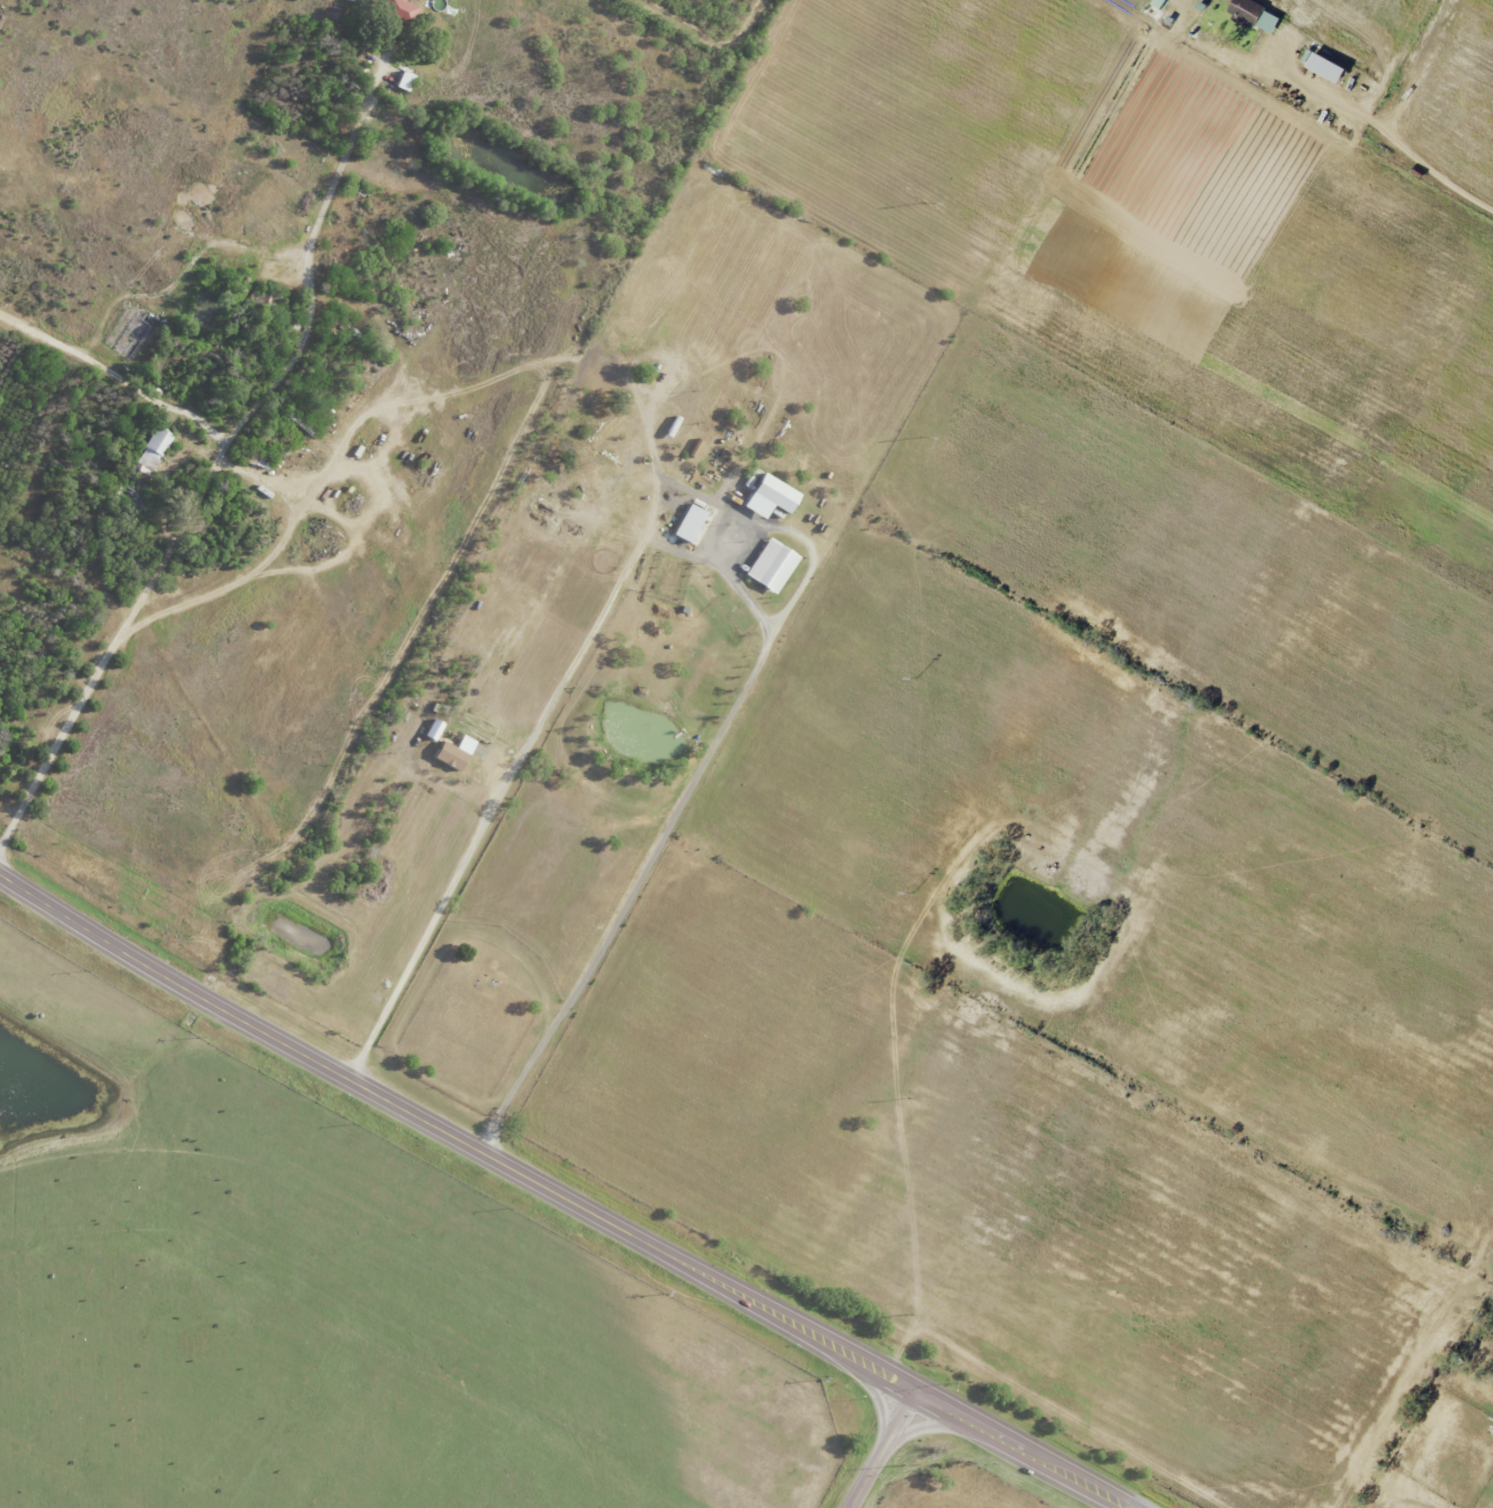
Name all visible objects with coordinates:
building: (1158, 3)
building: (402, 9)
building: (1252, 15)
building: (1321, 66)
building: (408, 81)
road: (1387, 126)
power tower: (926, 206)
road: (111, 378)
power tower: (921, 439)
building: (153, 452)
road: (206, 464)
building: (774, 497)
building: (693, 523)
road: (804, 540)
road: (268, 551)
building: (775, 565)
power tower: (919, 677)
road: (531, 745)
building: (458, 753)
road: (669, 818)
power tower: (916, 892)
power tower: (912, 1098)
road: (558, 1192)
power tower: (907, 1315)
road: (881, 1449)
power tower: (905, 1466)

